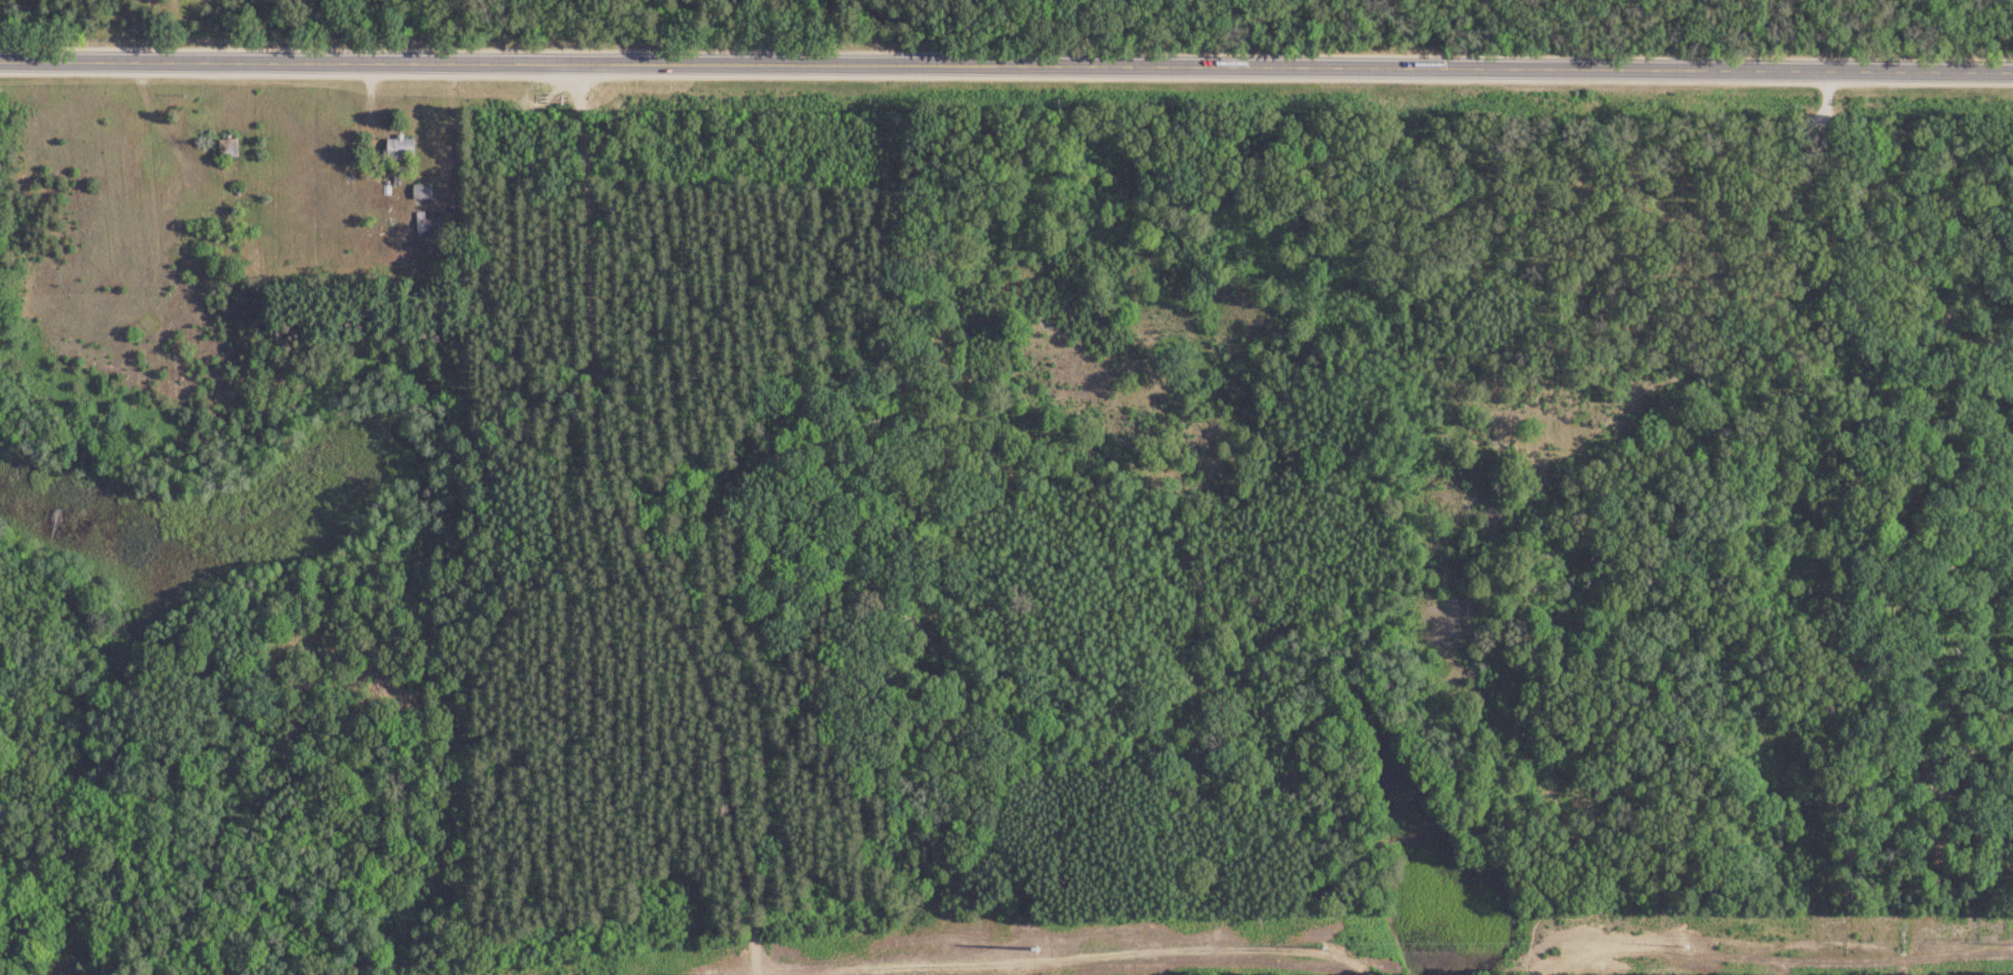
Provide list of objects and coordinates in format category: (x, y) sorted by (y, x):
road: (1864, 43)
road: (916, 67)
road: (1922, 75)
road: (1825, 107)
road: (1809, 123)
parking lot: (1810, 124)
building: (398, 147)
building: (226, 149)
building: (420, 193)
building: (429, 224)
road: (1503, 517)
road: (630, 520)
road: (698, 969)

